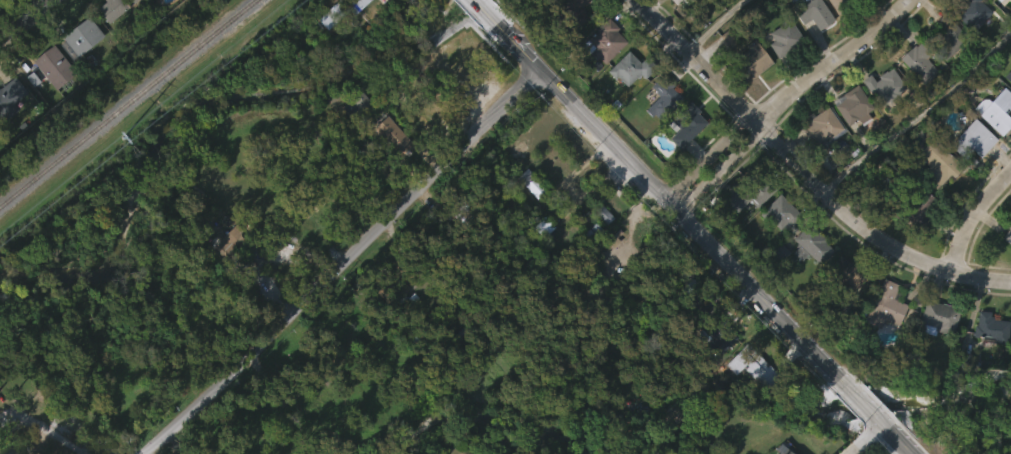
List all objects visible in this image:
road: (476, 0)
building: (997, 0)
building: (1010, 0)
building: (386, 1)
building: (684, 2)
building: (874, 3)
building: (841, 4)
building: (725, 6)
building: (114, 8)
building: (149, 9)
building: (332, 10)
building: (974, 13)
building: (813, 14)
building: (569, 16)
building: (1, 17)
road: (25, 18)
building: (675, 18)
building: (389, 20)
road: (715, 25)
building: (839, 26)
building: (355, 29)
building: (731, 35)
building: (110, 36)
building: (82, 37)
building: (573, 37)
building: (786, 37)
building: (950, 37)
building: (968, 38)
building: (605, 42)
building: (810, 43)
building: (754, 59)
building: (943, 59)
building: (921, 63)
building: (1010, 64)
building: (54, 66)
building: (632, 68)
building: (77, 69)
building: (781, 69)
building: (725, 70)
building: (601, 72)
building: (1008, 75)
building: (883, 85)
building: (750, 90)
road: (788, 95)
building: (915, 95)
building: (11, 97)
building: (51, 97)
building: (664, 98)
road: (575, 99)
building: (625, 99)
railway: (126, 102)
building: (852, 106)
building: (994, 111)
building: (880, 117)
road: (925, 120)
building: (687, 124)
building: (8, 127)
building: (823, 127)
building: (389, 134)
building: (351, 135)
building: (849, 135)
power tower: (121, 139)
building: (972, 139)
building: (993, 141)
building: (683, 155)
building: (818, 158)
building: (939, 162)
building: (389, 166)
building: (970, 169)
road: (573, 171)
road: (804, 171)
building: (533, 183)
building: (750, 193)
building: (932, 195)
building: (909, 208)
building: (527, 213)
building: (781, 213)
building: (462, 214)
road: (972, 216)
building: (1010, 224)
building: (747, 225)
building: (1008, 236)
building: (915, 237)
building: (231, 240)
building: (776, 242)
building: (463, 243)
building: (810, 244)
building: (540, 257)
road: (346, 259)
building: (1006, 264)
building: (225, 272)
building: (809, 274)
building: (841, 274)
building: (396, 284)
building: (275, 286)
building: (842, 303)
building: (888, 304)
building: (937, 317)
road: (793, 326)
building: (990, 327)
building: (716, 336)
building: (882, 336)
building: (441, 346)
building: (934, 348)
building: (986, 357)
building: (754, 365)
building: (710, 370)
building: (748, 396)
road: (866, 438)
road: (896, 448)
road: (79, 449)
building: (784, 452)

